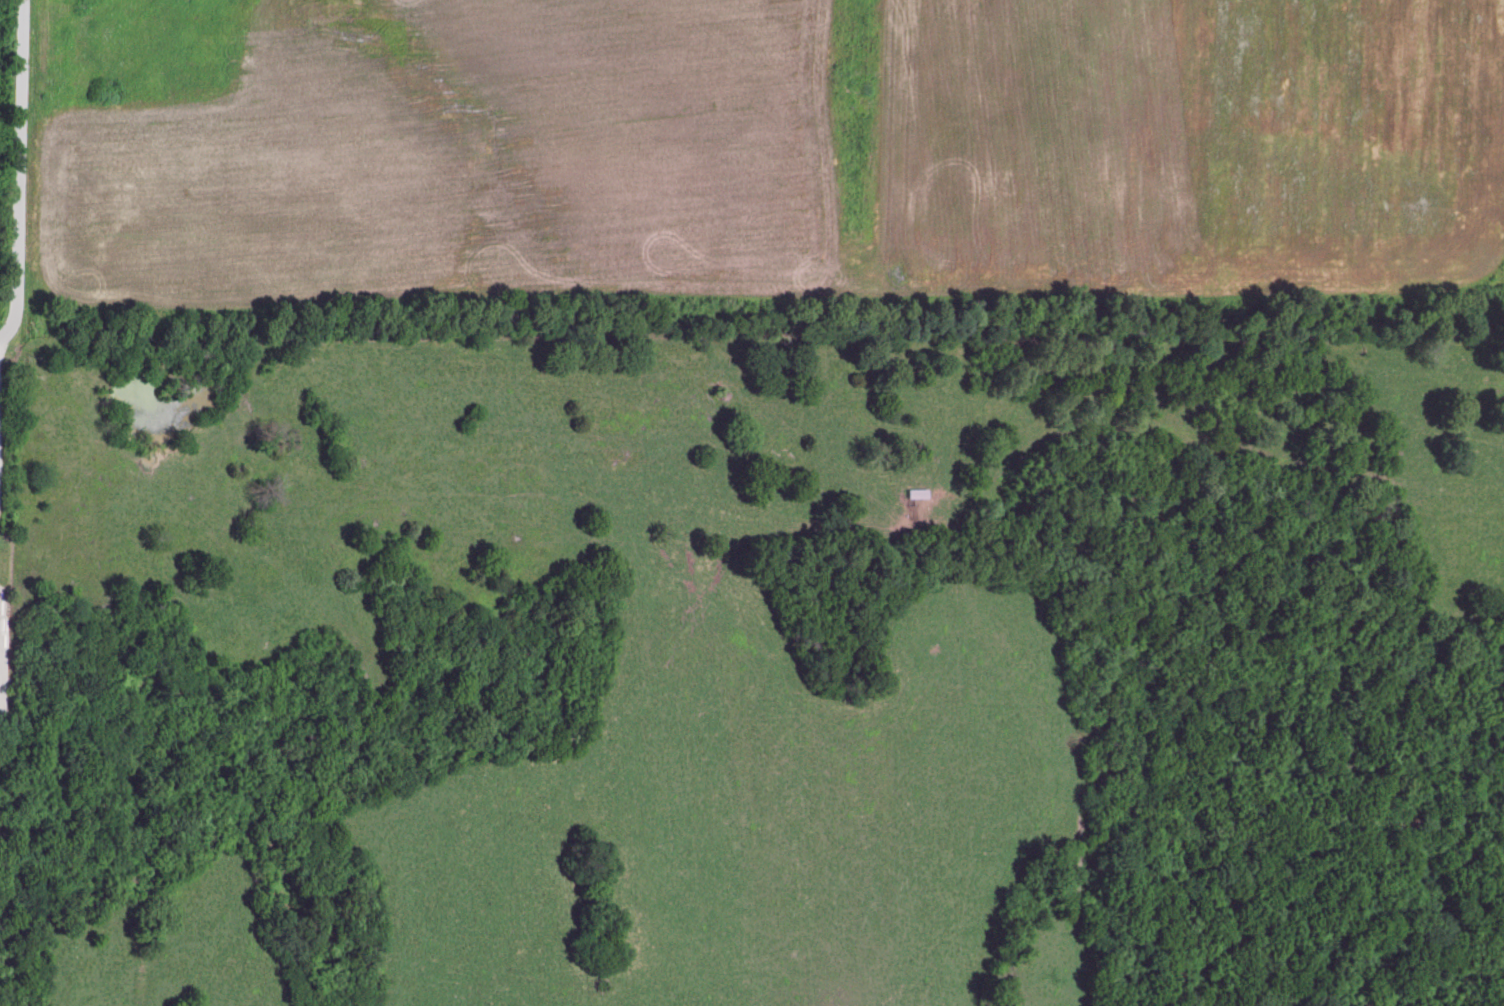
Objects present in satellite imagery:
road: (19, 170)
building: (919, 490)

